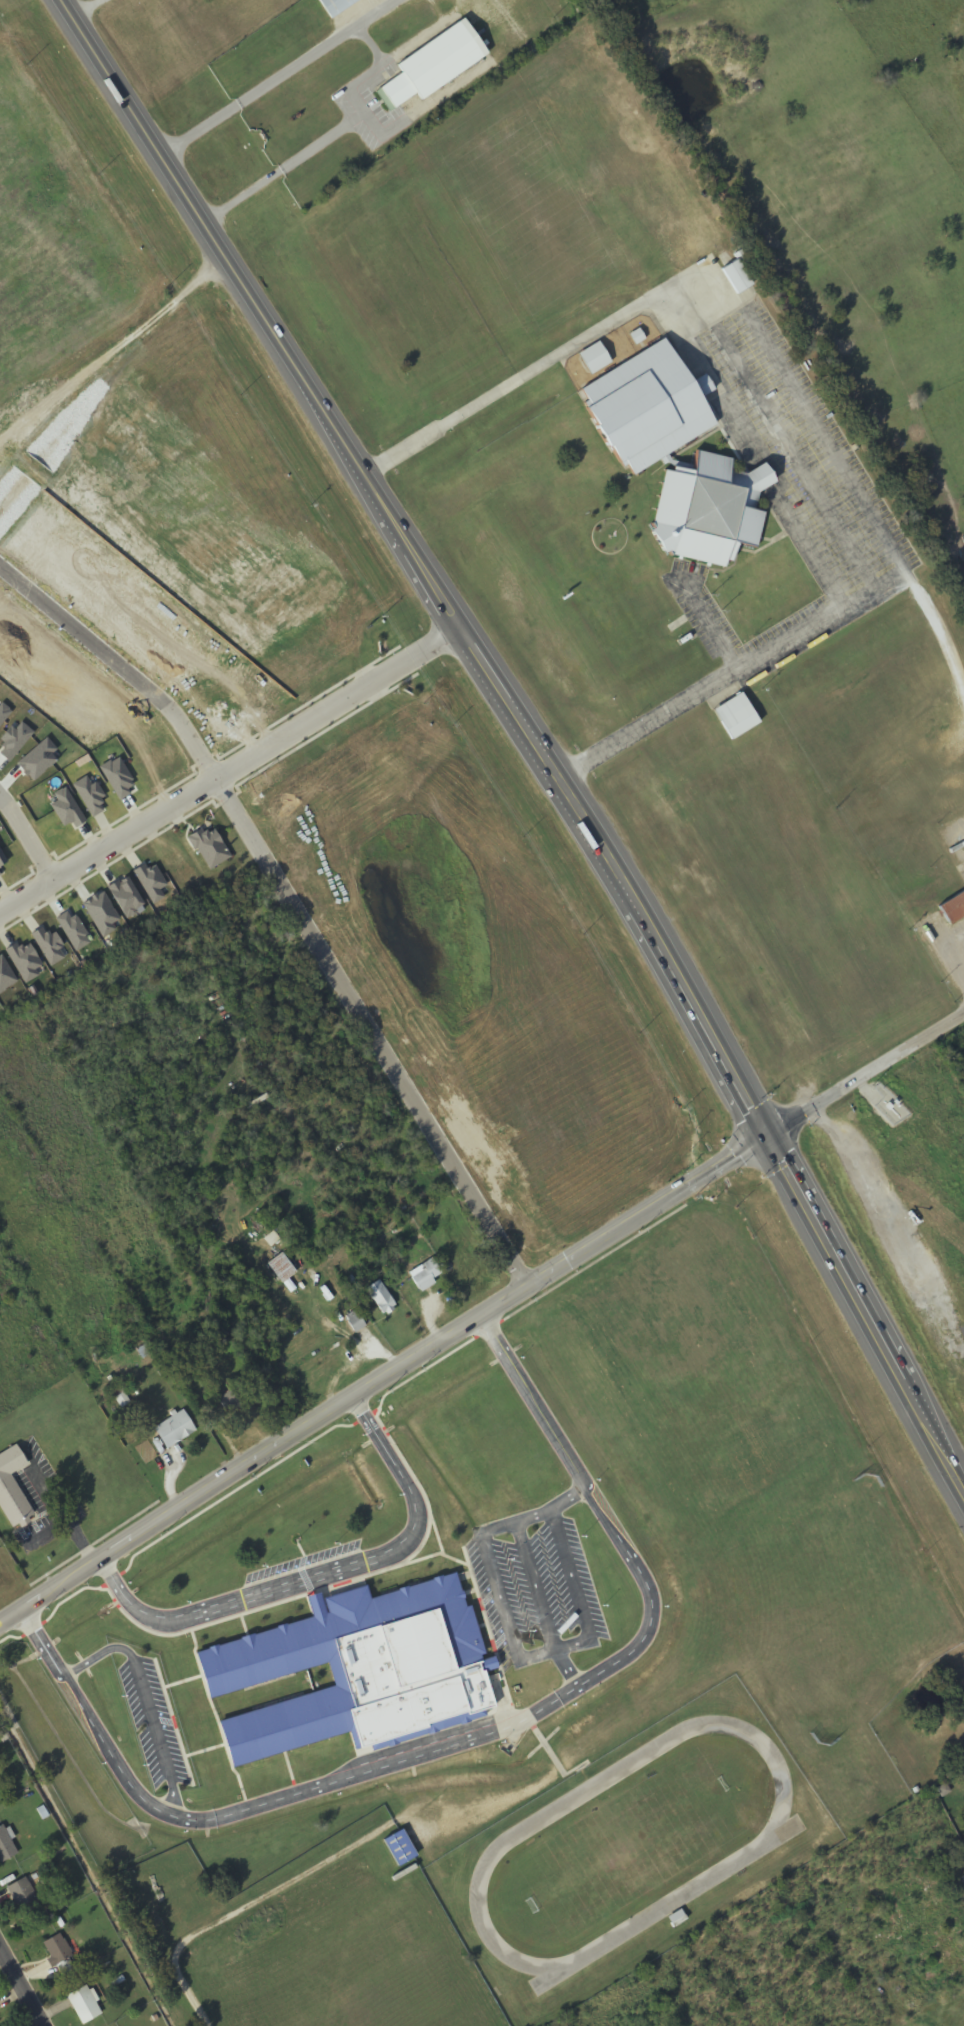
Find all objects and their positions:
building: (334, 5)
building: (429, 68)
building: (735, 278)
building: (593, 360)
building: (646, 410)
building: (706, 512)
road: (421, 564)
building: (735, 717)
road: (230, 766)
road: (27, 835)
building: (951, 907)
road: (347, 994)
road: (866, 1078)
traffic signals: (768, 1138)
building: (280, 1268)
building: (424, 1274)
building: (380, 1298)
road: (866, 1316)
building: (354, 1322)
building: (139, 1345)
road: (381, 1379)
building: (228, 1402)
building: (173, 1430)
road: (554, 1510)
road: (322, 1573)
road: (536, 1586)
road: (578, 1594)
road: (502, 1597)
road: (567, 1668)
building: (371, 1679)
road: (145, 1697)
road: (475, 1739)
track: (603, 1793)
building: (5, 1846)
building: (398, 1849)
building: (963, 1879)
building: (22, 1897)
track: (678, 1908)
building: (676, 1919)
building: (58, 1955)
road: (24, 1984)
building: (83, 2005)

